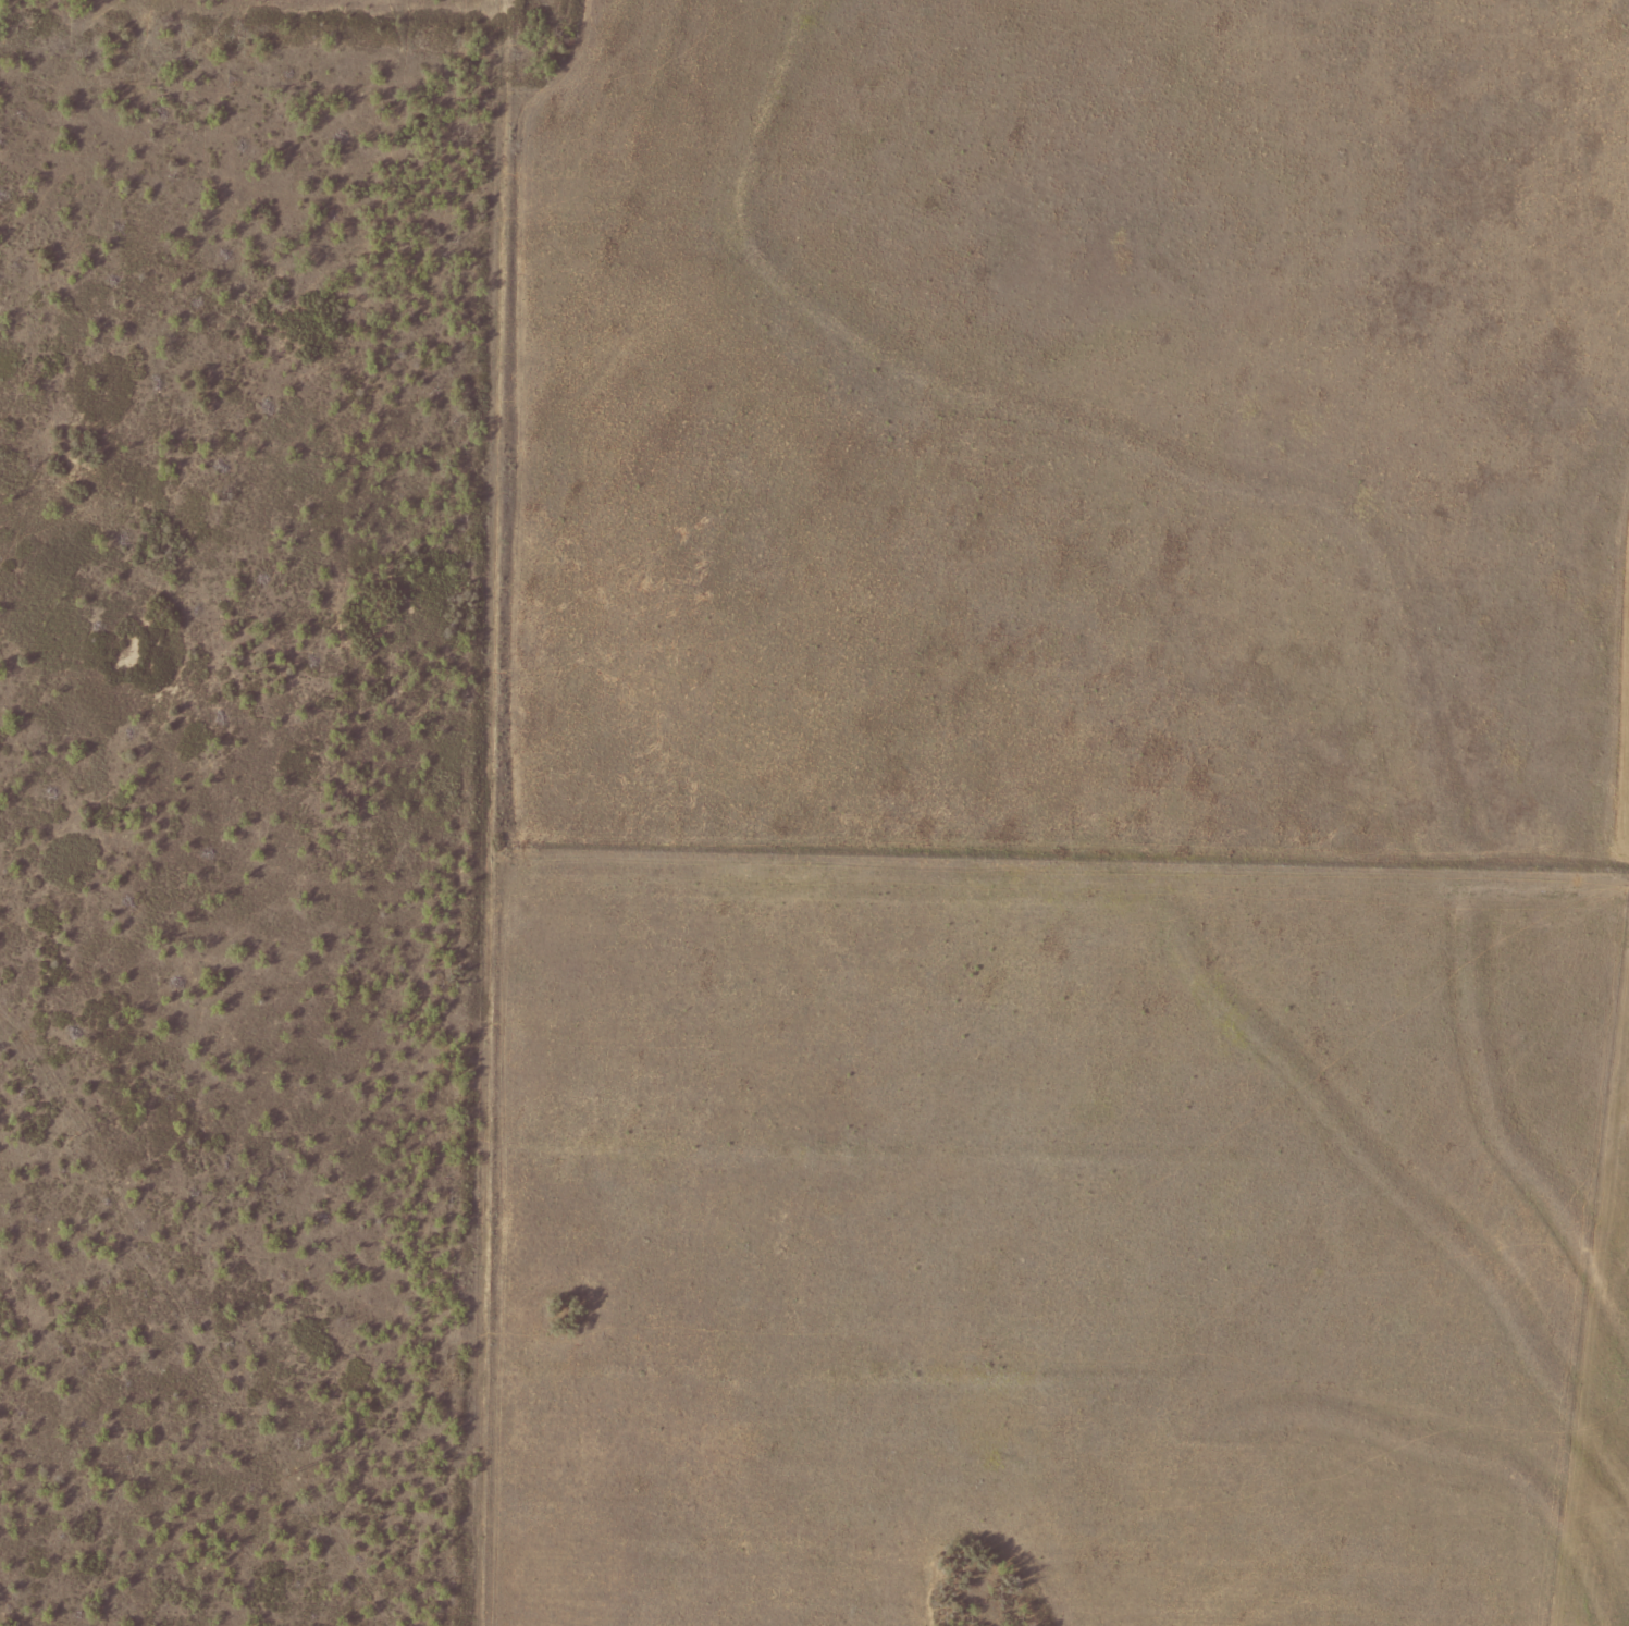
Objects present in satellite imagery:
power tower: (77, 1136)
power tower: (295, 1475)

